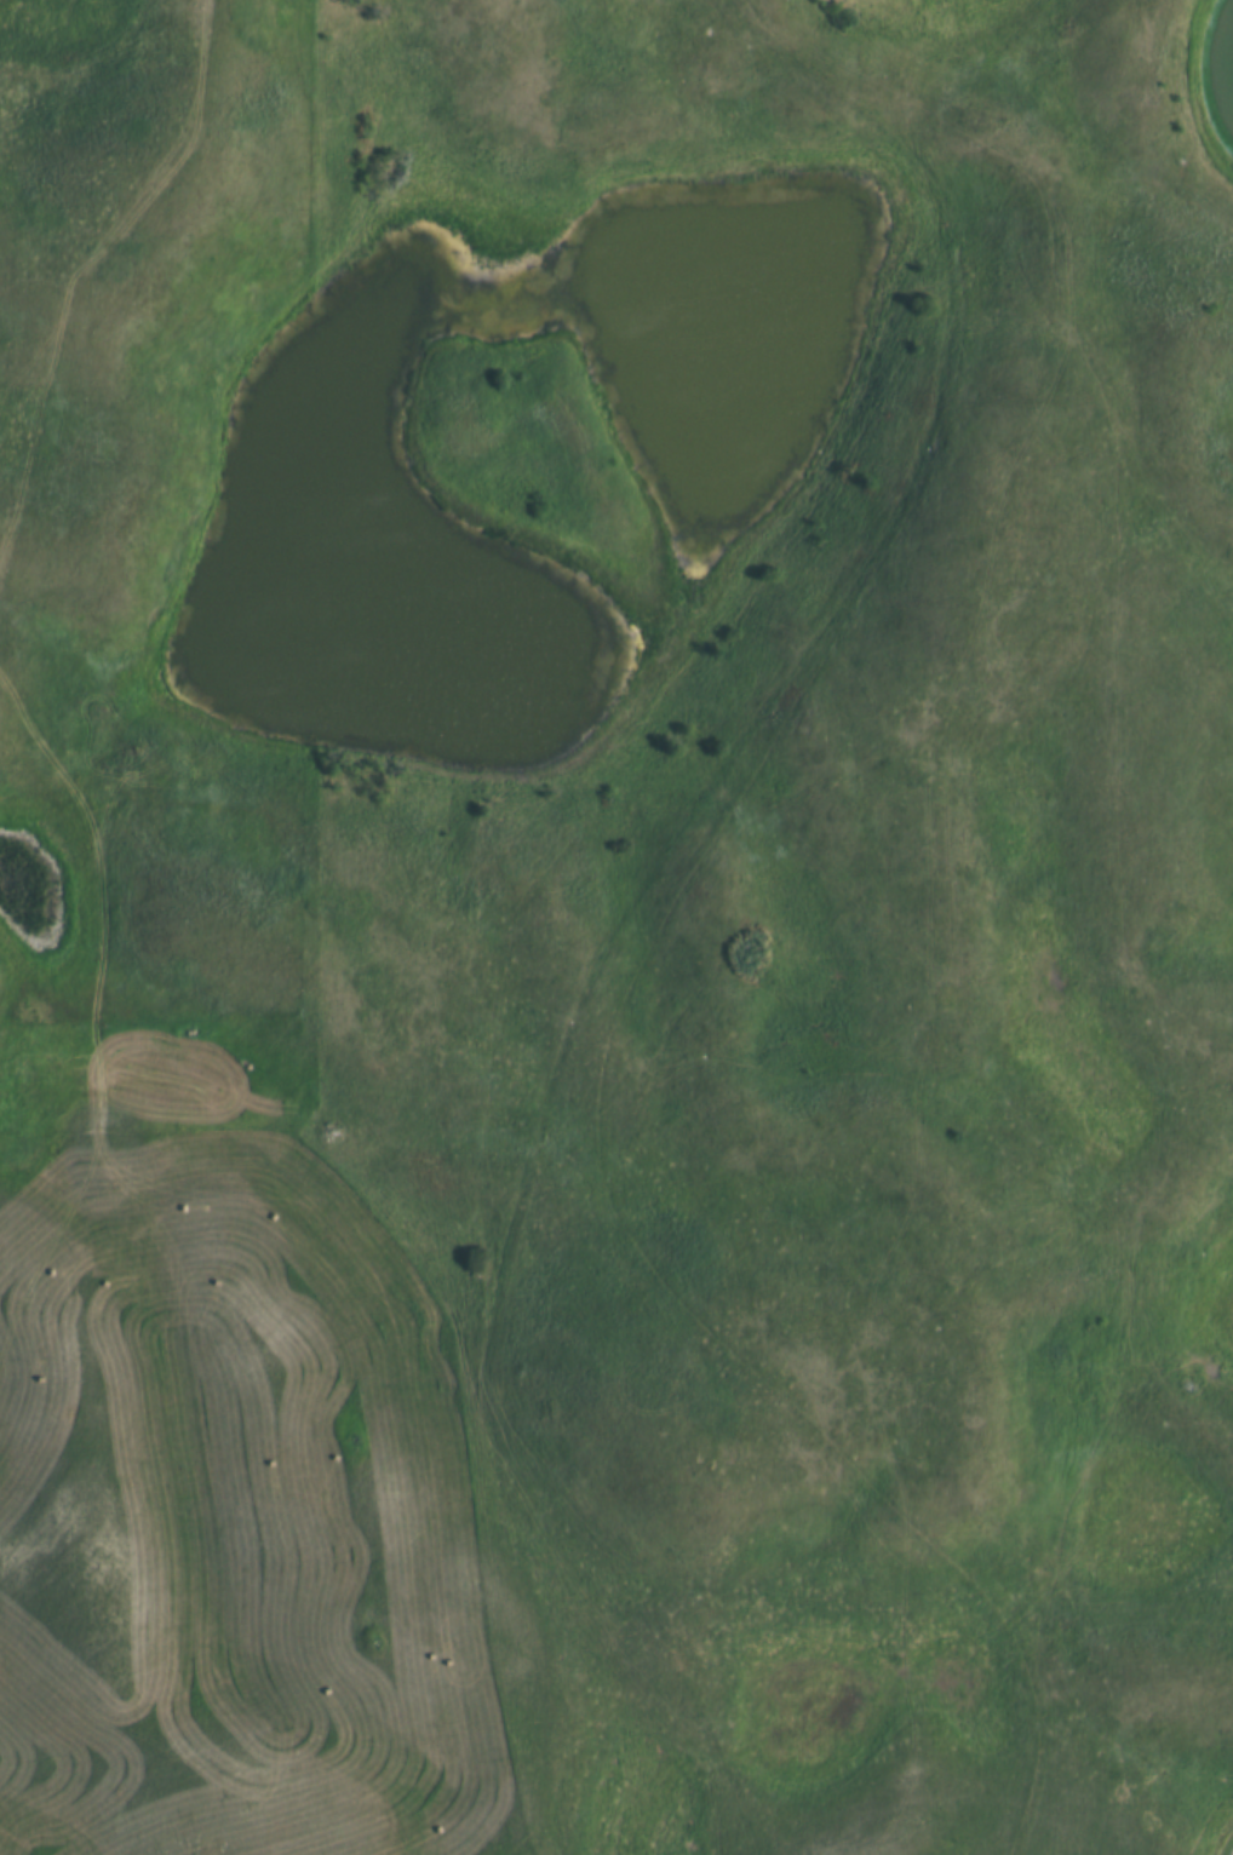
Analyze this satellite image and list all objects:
road: (523, 1547)

